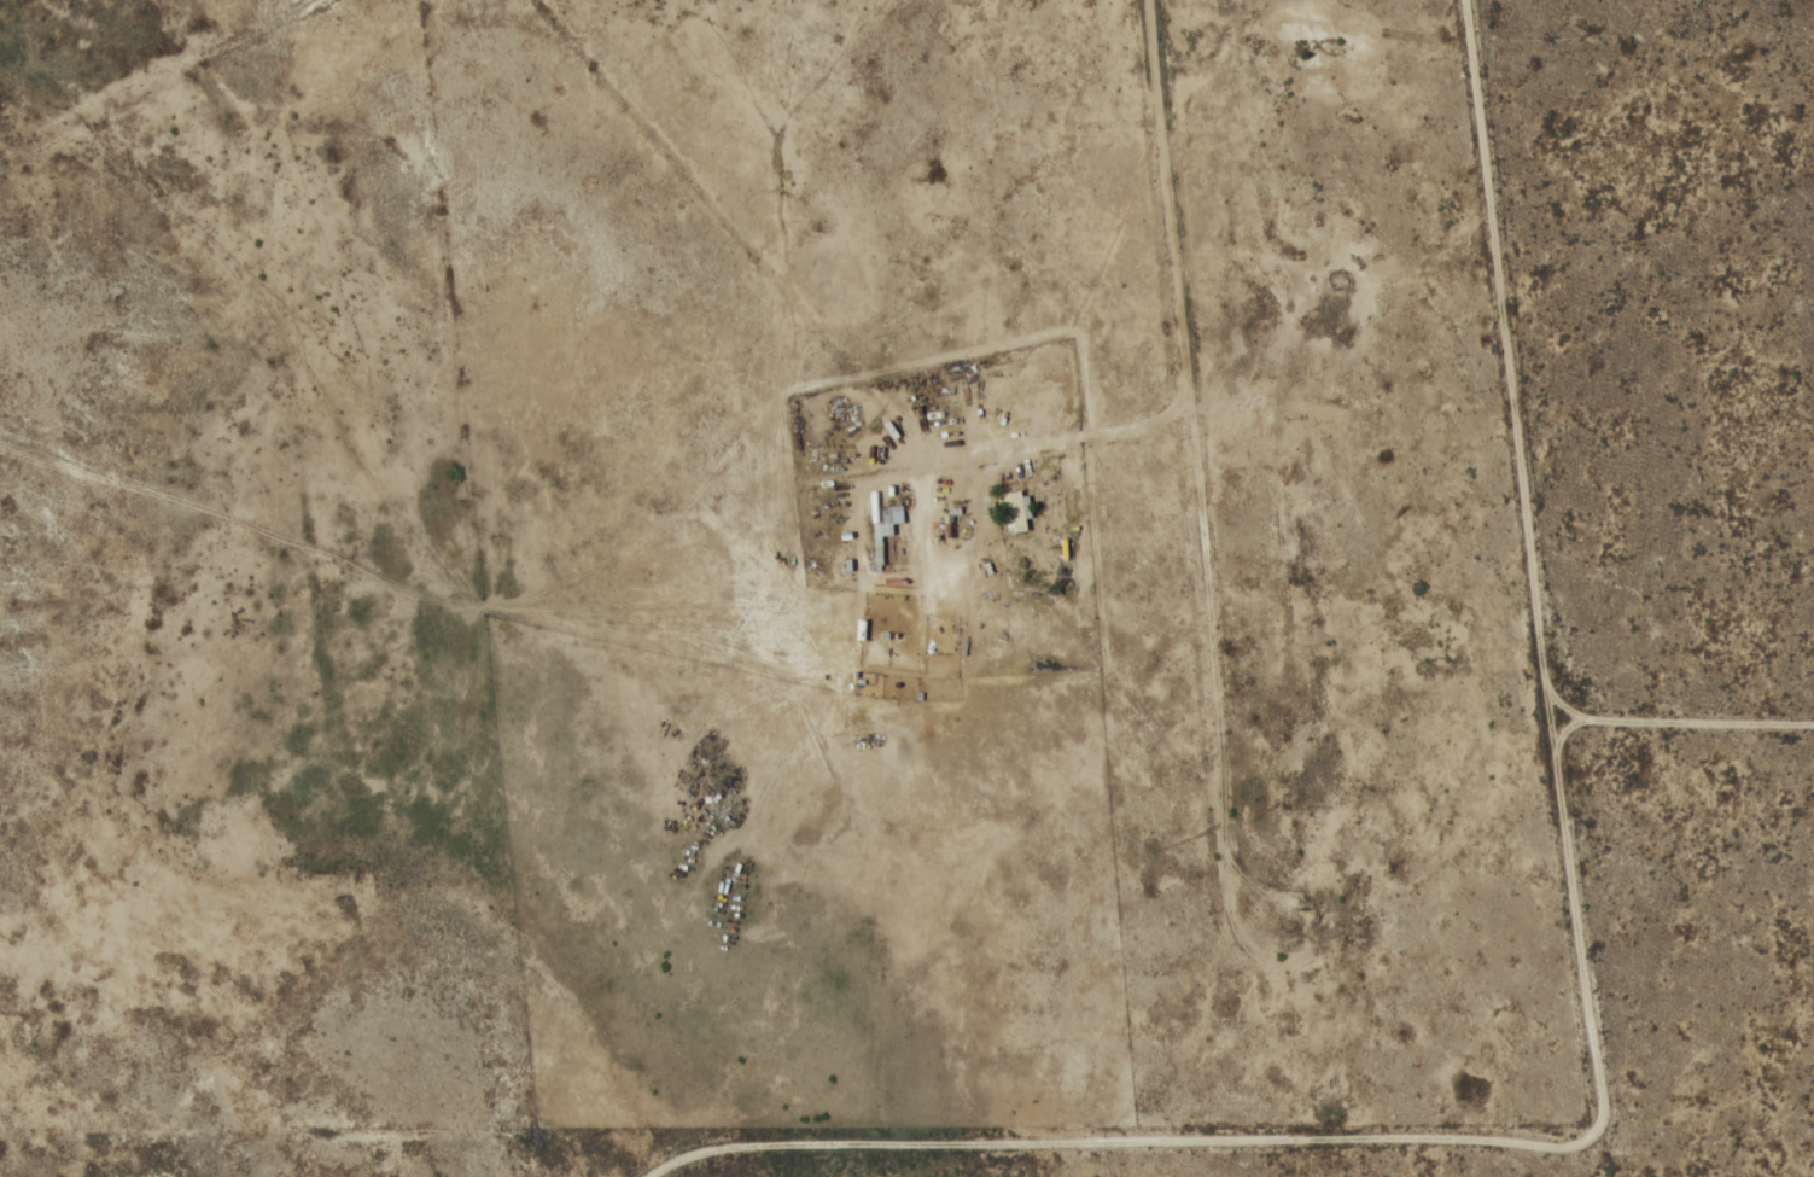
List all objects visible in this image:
road: (841, 216)
road: (741, 223)
road: (1176, 247)
road: (542, 302)
road: (46, 466)
building: (1015, 506)
building: (885, 535)

